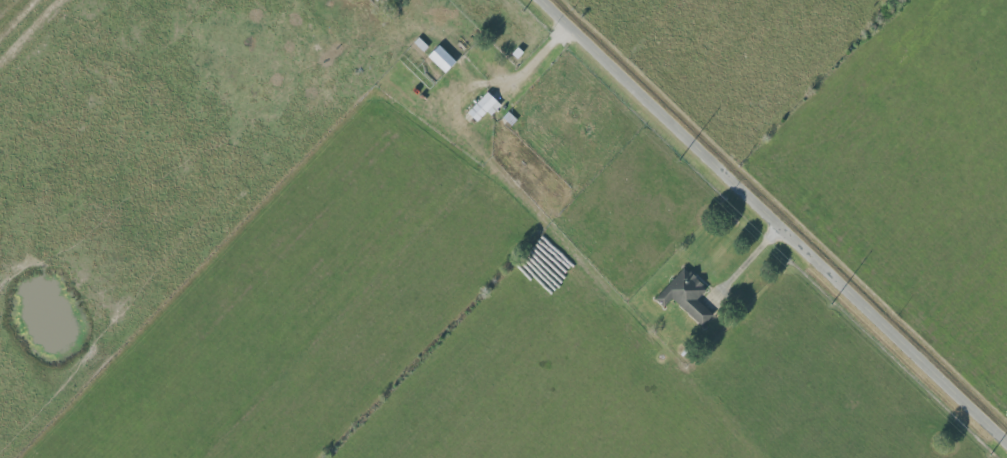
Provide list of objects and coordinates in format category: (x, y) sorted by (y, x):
road: (32, 33)
building: (440, 58)
road: (538, 60)
building: (483, 106)
road: (778, 216)
road: (749, 260)
building: (685, 296)

